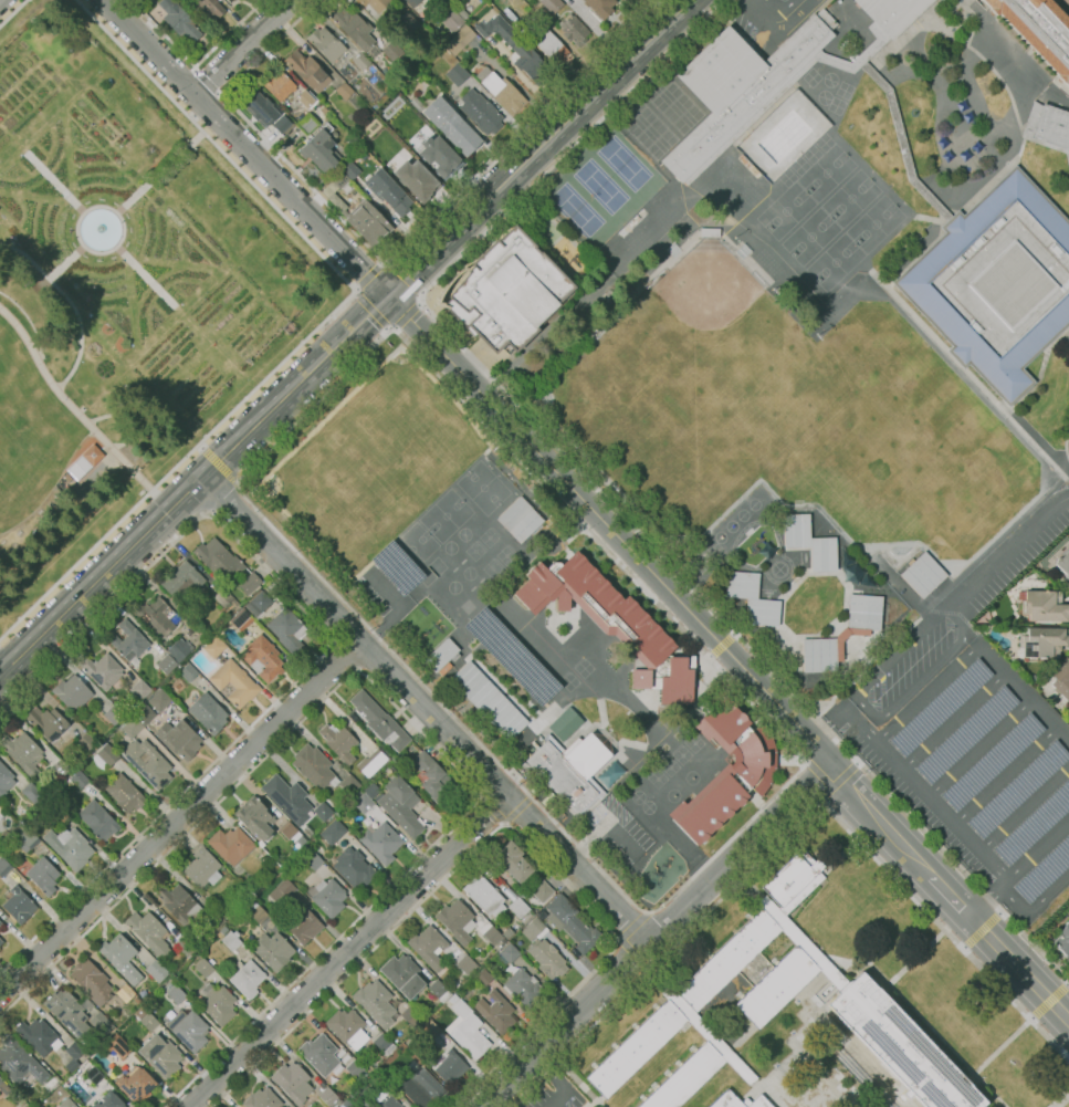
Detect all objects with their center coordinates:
building: (233, 0)
building: (229, 1)
road: (748, 2)
building: (376, 4)
building: (417, 4)
building: (552, 4)
building: (599, 8)
building: (208, 9)
road: (10, 10)
road: (765, 11)
building: (892, 13)
building: (509, 14)
parking lot: (767, 19)
building: (178, 20)
building: (452, 21)
building: (407, 22)
building: (353, 28)
building: (573, 29)
building: (1038, 30)
building: (444, 32)
building: (463, 35)
building: (326, 43)
road: (978, 45)
road: (242, 46)
building: (515, 48)
building: (552, 48)
building: (391, 50)
building: (361, 61)
road: (856, 63)
road: (196, 65)
road: (986, 66)
building: (308, 70)
building: (458, 75)
park: (828, 79)
road: (1019, 81)
building: (277, 85)
building: (740, 88)
building: (344, 91)
building: (503, 93)
park: (664, 96)
park: (822, 96)
building: (308, 102)
road: (952, 102)
building: (417, 103)
building: (258, 107)
park: (675, 107)
building: (480, 112)
park: (687, 118)
building: (1030, 121)
park: (638, 122)
building: (281, 124)
building: (307, 124)
building: (451, 126)
building: (1052, 126)
park: (649, 133)
building: (900, 135)
road: (1033, 140)
road: (902, 143)
park: (660, 144)
road: (244, 147)
road: (538, 147)
building: (321, 150)
road: (1068, 153)
building: (438, 155)
building: (350, 167)
park: (825, 171)
road: (159, 173)
road: (996, 178)
building: (339, 179)
building: (416, 179)
road: (55, 182)
park: (599, 189)
building: (386, 194)
park: (849, 197)
park: (785, 210)
building: (367, 222)
park: (873, 222)
fountain: (99, 228)
road: (76, 229)
fountain: (99, 229)
building: (710, 232)
park: (808, 237)
park: (557, 242)
road: (388, 260)
park: (834, 261)
road: (65, 262)
road: (388, 262)
road: (382, 263)
road: (145, 276)
road: (405, 276)
building: (996, 282)
park: (119, 290)
road: (419, 291)
building: (506, 292)
traffic signals: (387, 295)
road: (361, 296)
road: (419, 302)
road: (71, 304)
road: (406, 317)
road: (28, 320)
road: (324, 323)
road: (391, 326)
road: (346, 334)
road: (1067, 341)
road: (967, 376)
road: (1046, 380)
park: (708, 389)
road: (283, 397)
road: (69, 403)
road: (231, 448)
building: (85, 461)
road: (172, 474)
road: (233, 485)
park: (482, 487)
road: (596, 488)
road: (187, 490)
building: (534, 490)
road: (222, 495)
park: (753, 503)
road: (206, 513)
building: (513, 514)
park: (742, 514)
park: (446, 516)
park: (731, 525)
building: (525, 526)
park: (462, 534)
park: (719, 536)
park: (488, 537)
park: (418, 542)
building: (809, 542)
park: (448, 546)
park: (473, 551)
track: (761, 551)
road: (1006, 551)
park: (504, 554)
building: (218, 558)
building: (1063, 563)
building: (396, 566)
park: (491, 567)
park: (467, 572)
building: (851, 574)
building: (923, 574)
road: (101, 575)
flagpole: (807, 578)
building: (181, 582)
building: (249, 583)
road: (662, 583)
park: (452, 586)
building: (222, 597)
building: (752, 598)
building: (234, 604)
building: (259, 604)
building: (1042, 604)
road: (397, 606)
park: (467, 606)
building: (864, 612)
building: (156, 617)
building: (240, 619)
building: (608, 622)
building: (287, 629)
road: (328, 641)
building: (128, 643)
building: (1041, 643)
road: (721, 646)
building: (214, 647)
building: (179, 649)
building: (441, 655)
building: (819, 655)
road: (344, 656)
building: (510, 656)
building: (262, 658)
building: (167, 665)
park: (583, 668)
building: (102, 670)
building: (188, 672)
building: (1060, 681)
building: (234, 683)
building: (177, 685)
building: (140, 690)
building: (72, 692)
road: (929, 693)
road: (1024, 693)
building: (158, 699)
building: (489, 701)
building: (940, 708)
road: (426, 710)
building: (208, 712)
road: (401, 713)
building: (113, 714)
building: (379, 721)
road: (877, 721)
building: (46, 722)
building: (563, 723)
road: (956, 723)
building: (132, 727)
building: (965, 734)
building: (179, 739)
building: (338, 741)
building: (88, 742)
park: (693, 743)
road: (979, 749)
building: (22, 753)
building: (107, 754)
park: (681, 754)
parking lot: (970, 758)
road: (805, 761)
building: (147, 762)
road: (807, 762)
building: (371, 763)
building: (992, 763)
park: (668, 766)
building: (60, 767)
building: (314, 767)
building: (570, 769)
building: (610, 773)
road: (845, 774)
building: (430, 776)
road: (1006, 776)
park: (690, 777)
building: (723, 777)
park: (657, 779)
building: (4, 780)
building: (78, 780)
road: (826, 780)
building: (349, 784)
building: (64, 789)
building: (1017, 791)
building: (31, 793)
building: (123, 793)
road: (926, 794)
park: (672, 795)
park: (636, 796)
building: (287, 798)
road: (819, 798)
building: (363, 803)
building: (400, 806)
road: (516, 806)
park: (647, 806)
building: (54, 812)
building: (323, 812)
road: (1025, 812)
road: (179, 817)
building: (254, 817)
building: (97, 821)
road: (500, 824)
building: (1034, 825)
road: (793, 826)
building: (287, 829)
building: (305, 832)
building: (333, 832)
building: (28, 839)
building: (301, 842)
building: (380, 843)
parking lot: (620, 844)
building: (230, 845)
building: (70, 847)
building: (305, 848)
road: (1037, 850)
building: (260, 857)
building: (511, 859)
building: (313, 860)
building: (3, 866)
building: (354, 867)
building: (202, 868)
building: (1044, 871)
building: (277, 873)
building: (43, 875)
building: (790, 877)
building: (282, 891)
building: (543, 891)
building: (483, 895)
road: (950, 896)
building: (328, 898)
building: (178, 904)
building: (19, 905)
building: (518, 907)
road: (1037, 907)
building: (255, 911)
building: (539, 915)
road: (775, 919)
building: (218, 920)
building: (0, 922)
building: (464, 923)
building: (572, 923)
road: (631, 925)
building: (303, 926)
building: (533, 929)
road: (981, 931)
road: (659, 932)
building: (150, 934)
building: (797, 938)
road: (798, 939)
building: (231, 940)
building: (0, 941)
building: (1062, 941)
building: (185, 946)
building: (428, 947)
building: (273, 950)
road: (347, 951)
building: (507, 954)
building: (120, 955)
road: (810, 955)
building: (1056, 955)
building: (547, 959)
building: (729, 960)
road: (912, 960)
building: (465, 964)
building: (202, 968)
road: (1018, 969)
building: (157, 970)
building: (402, 975)
building: (483, 978)
building: (247, 979)
building: (92, 981)
building: (453, 984)
building: (523, 986)
building: (776, 986)
building: (174, 991)
building: (439, 991)
building: (126, 992)
building: (453, 998)
building: (136, 999)
road: (1048, 1001)
building: (375, 1003)
building: (218, 1004)
road: (681, 1005)
building: (67, 1010)
building: (495, 1011)
building: (140, 1012)
building: (410, 1017)
building: (149, 1021)
building: (97, 1022)
road: (926, 1023)
building: (684, 1025)
building: (111, 1026)
building: (347, 1027)
road: (700, 1027)
building: (189, 1028)
building: (467, 1031)
building: (706, 1032)
building: (426, 1033)
building: (39, 1035)
building: (380, 1040)
building: (117, 1045)
building: (901, 1046)
road: (717, 1048)
building: (636, 1049)
road: (997, 1051)
building: (319, 1054)
building: (73, 1055)
building: (161, 1055)
building: (19, 1062)
building: (449, 1068)
building: (356, 1072)
flagpole: (998, 1072)
building: (94, 1074)
building: (685, 1078)
building: (292, 1083)
road: (560, 1083)
building: (136, 1085)
building: (3, 1087)
building: (416, 1088)
building: (327, 1095)
building: (262, 1098)
building: (109, 1100)
building: (348, 1101)
building: (737, 1101)
road: (1063, 1101)
building: (66, 1103)
building: (389, 1103)
building: (410, 1106)

